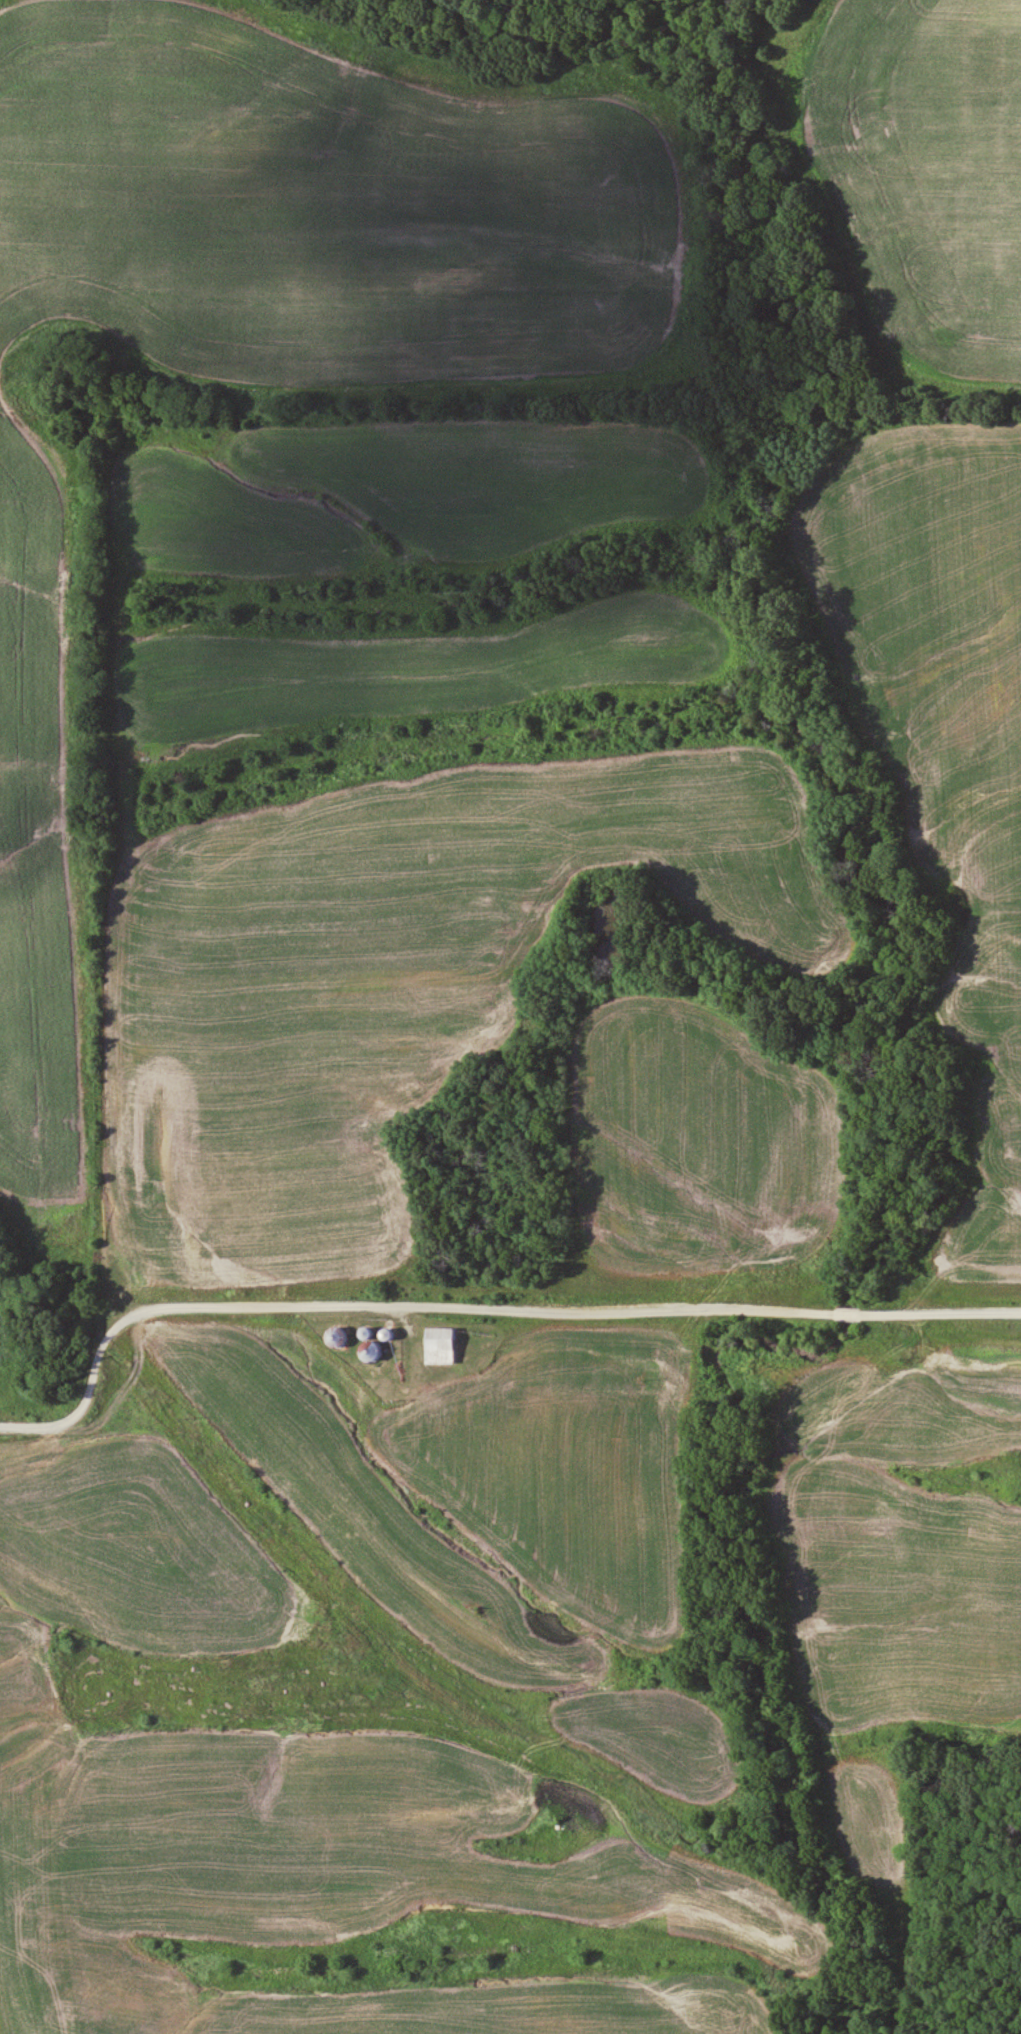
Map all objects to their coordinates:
road: (473, 1316)
building: (339, 1337)
building: (447, 1346)

